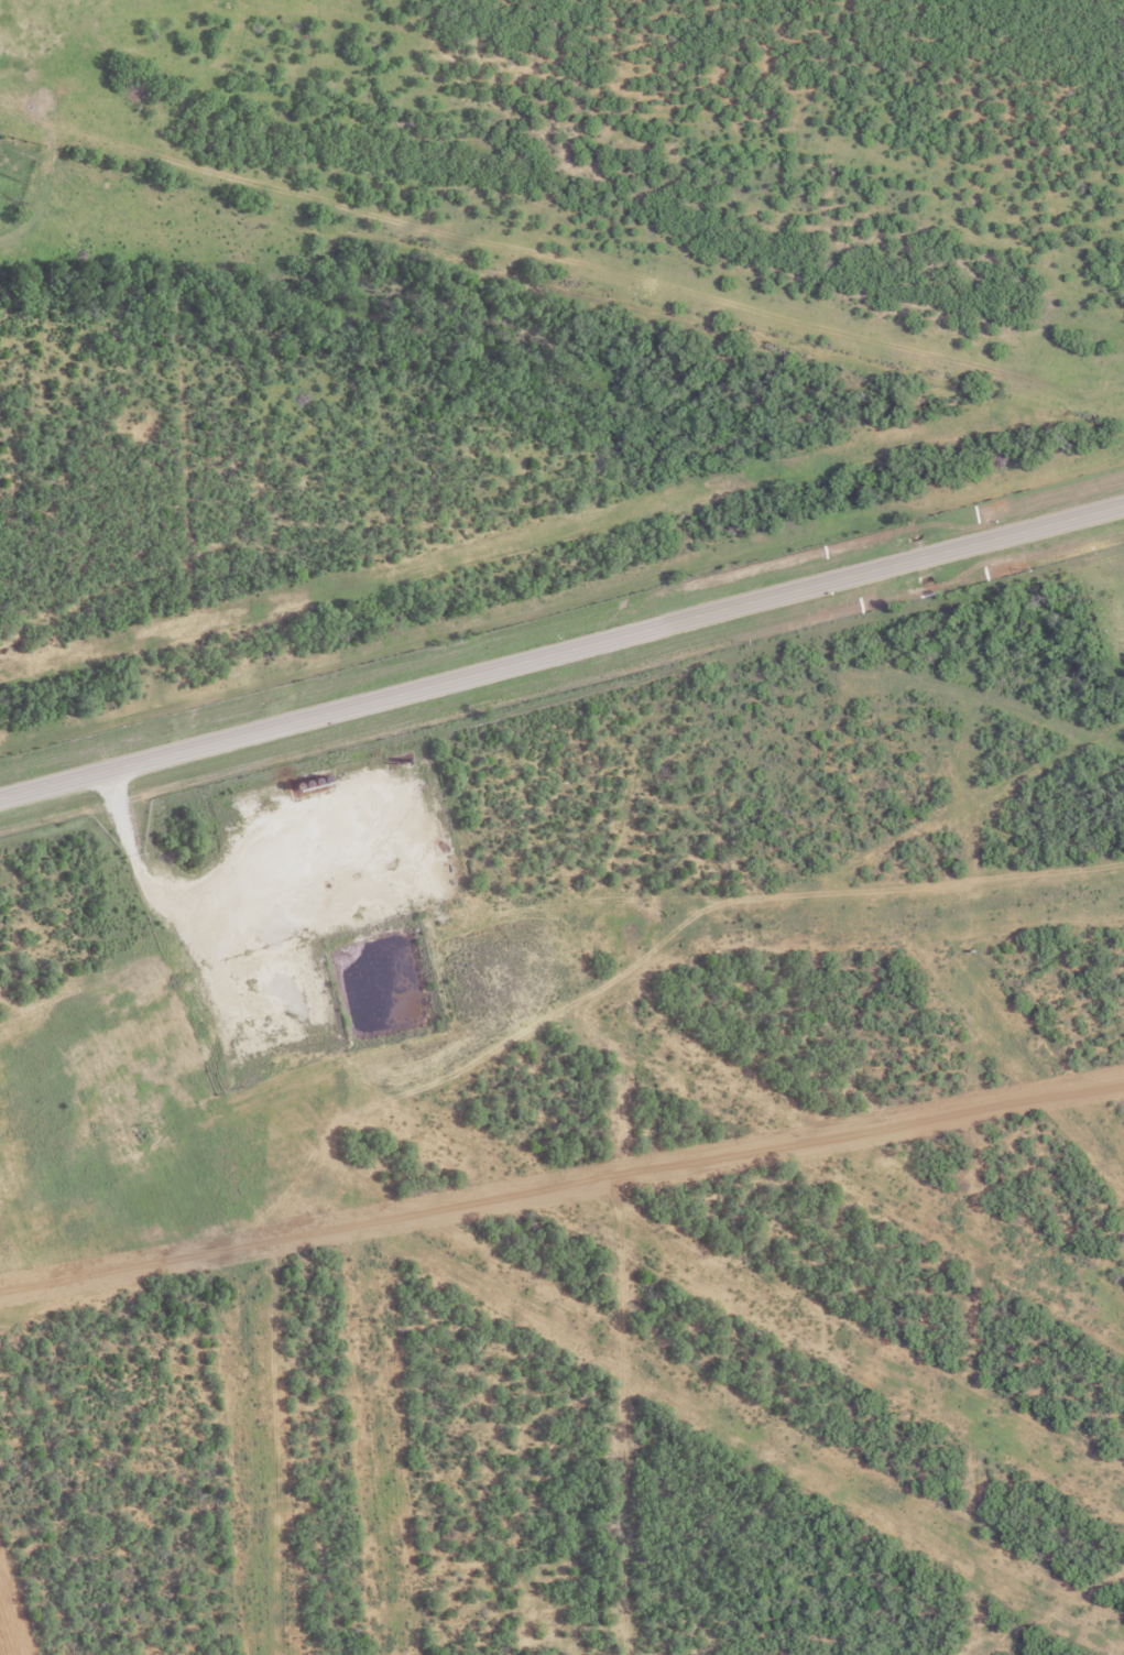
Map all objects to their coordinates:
road: (496, 249)
road: (561, 650)

